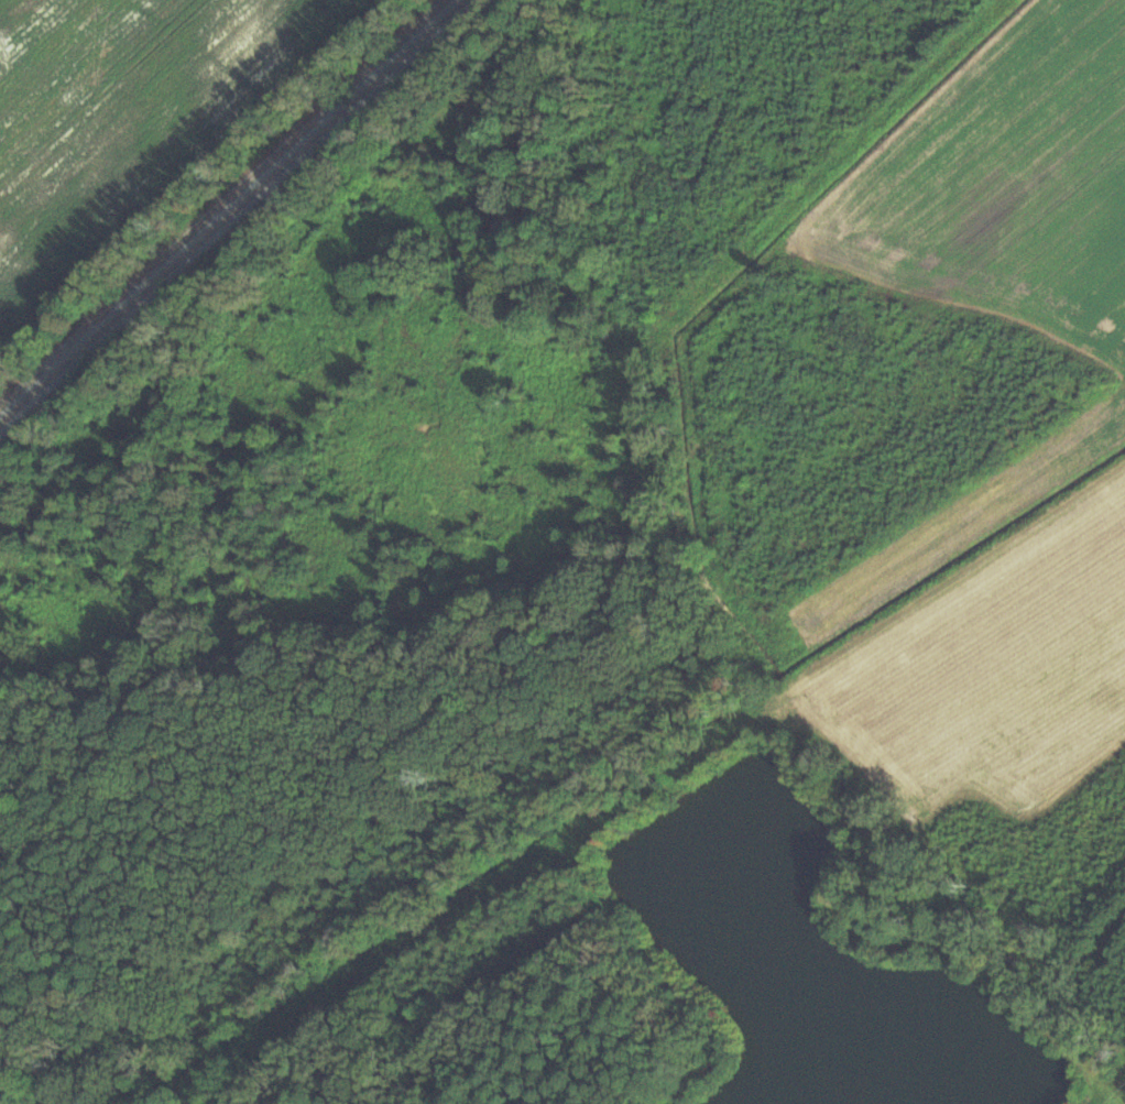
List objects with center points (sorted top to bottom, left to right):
railway: (231, 211)

